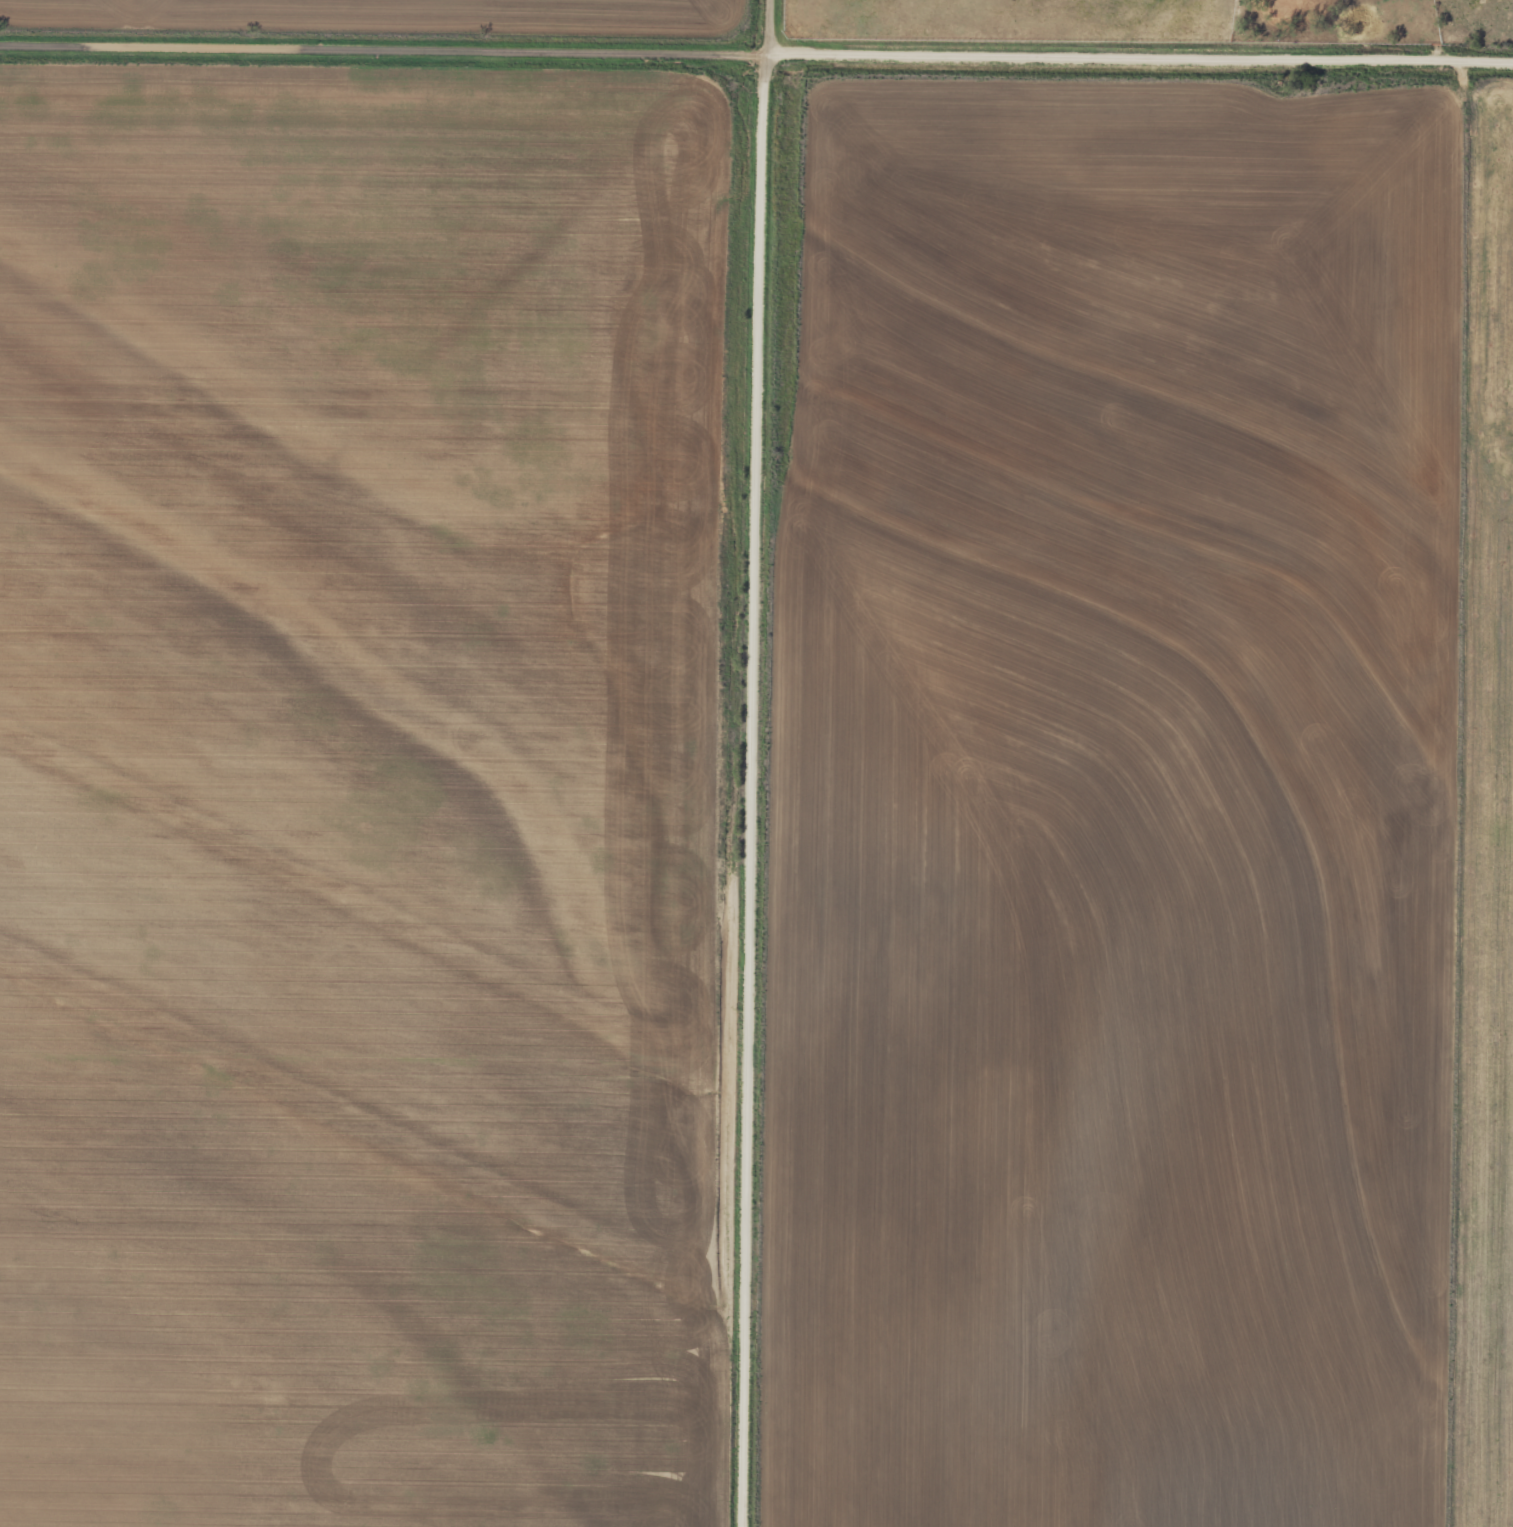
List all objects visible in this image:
road: (756, 50)
road: (756, 763)

